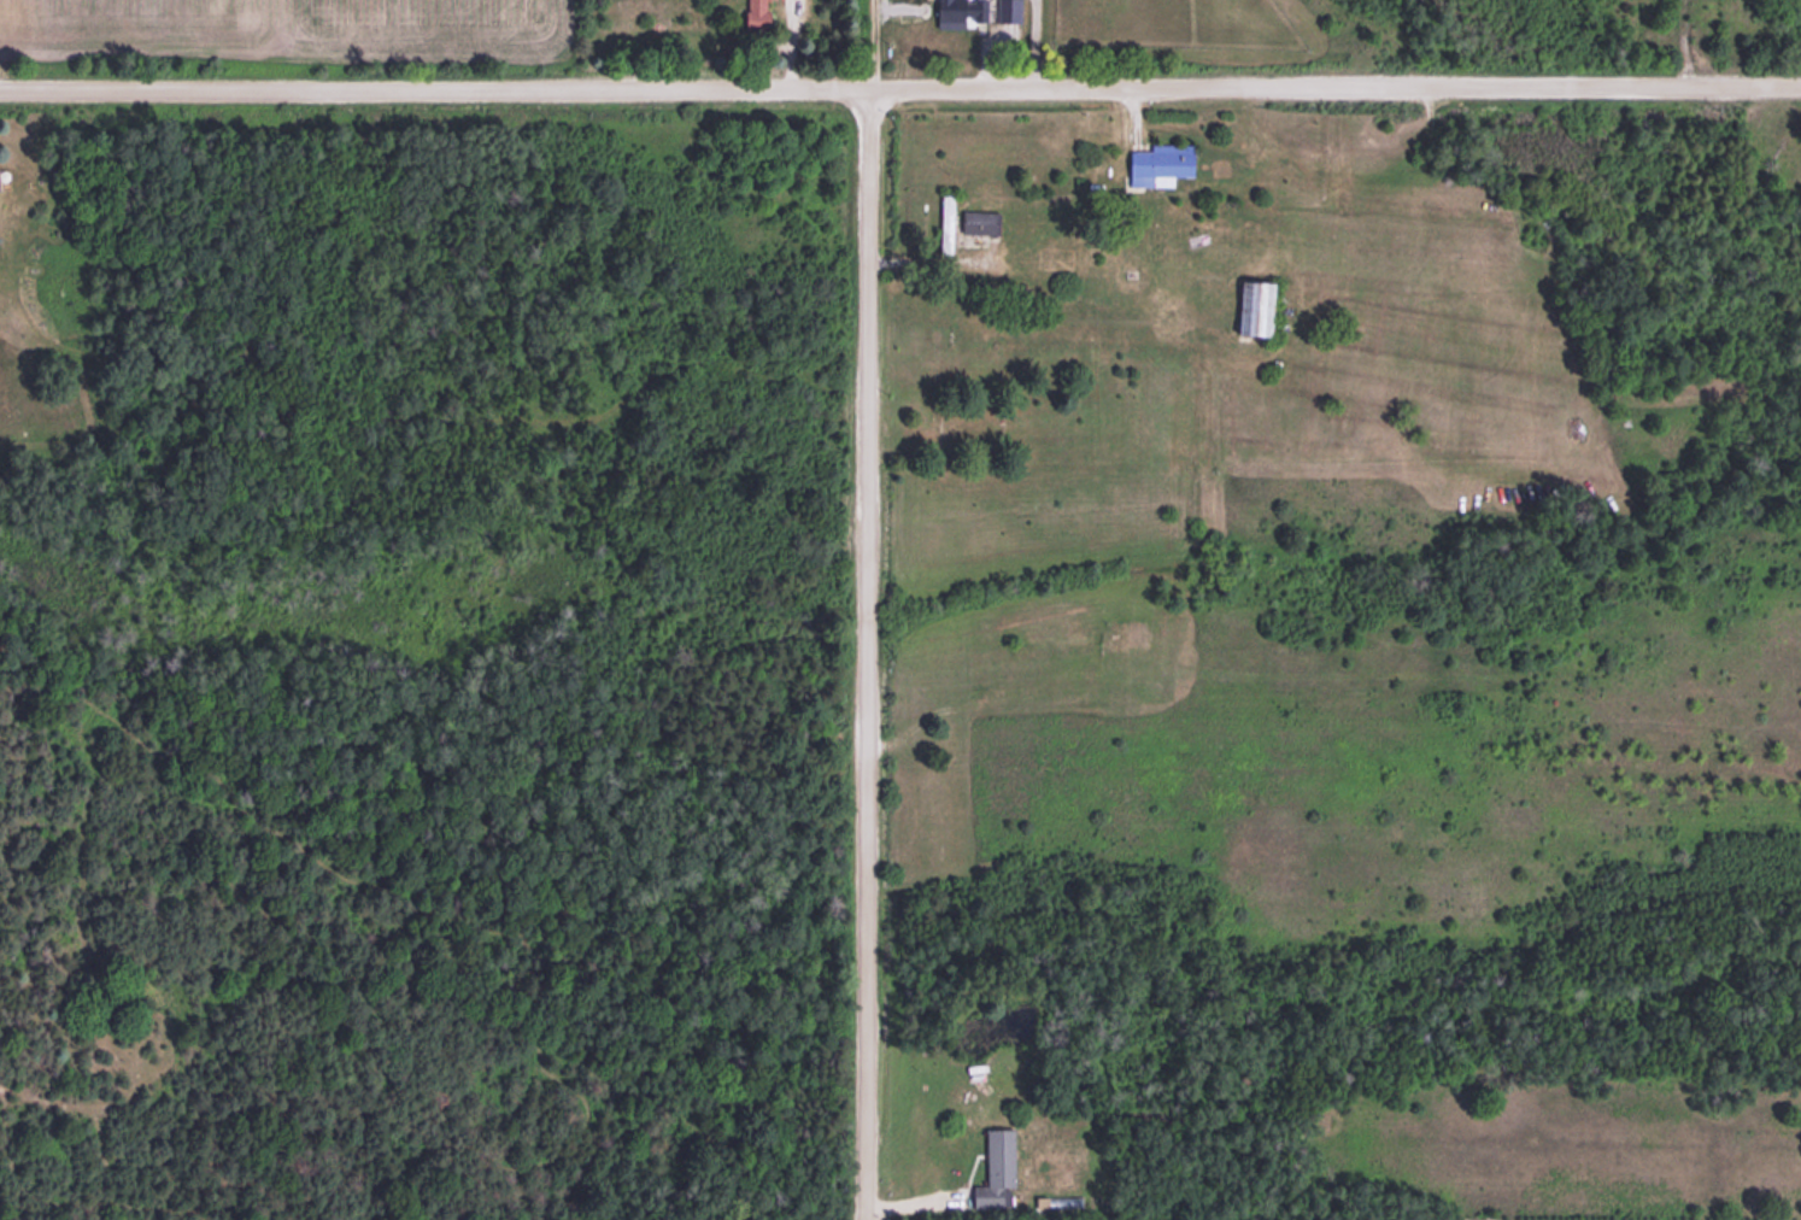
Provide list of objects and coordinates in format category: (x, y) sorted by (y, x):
building: (958, 12)
building: (751, 13)
road: (867, 47)
road: (900, 93)
building: (1158, 159)
building: (2, 177)
building: (978, 221)
building: (944, 222)
building: (1196, 237)
building: (1249, 306)
road: (867, 657)
building: (995, 1167)

